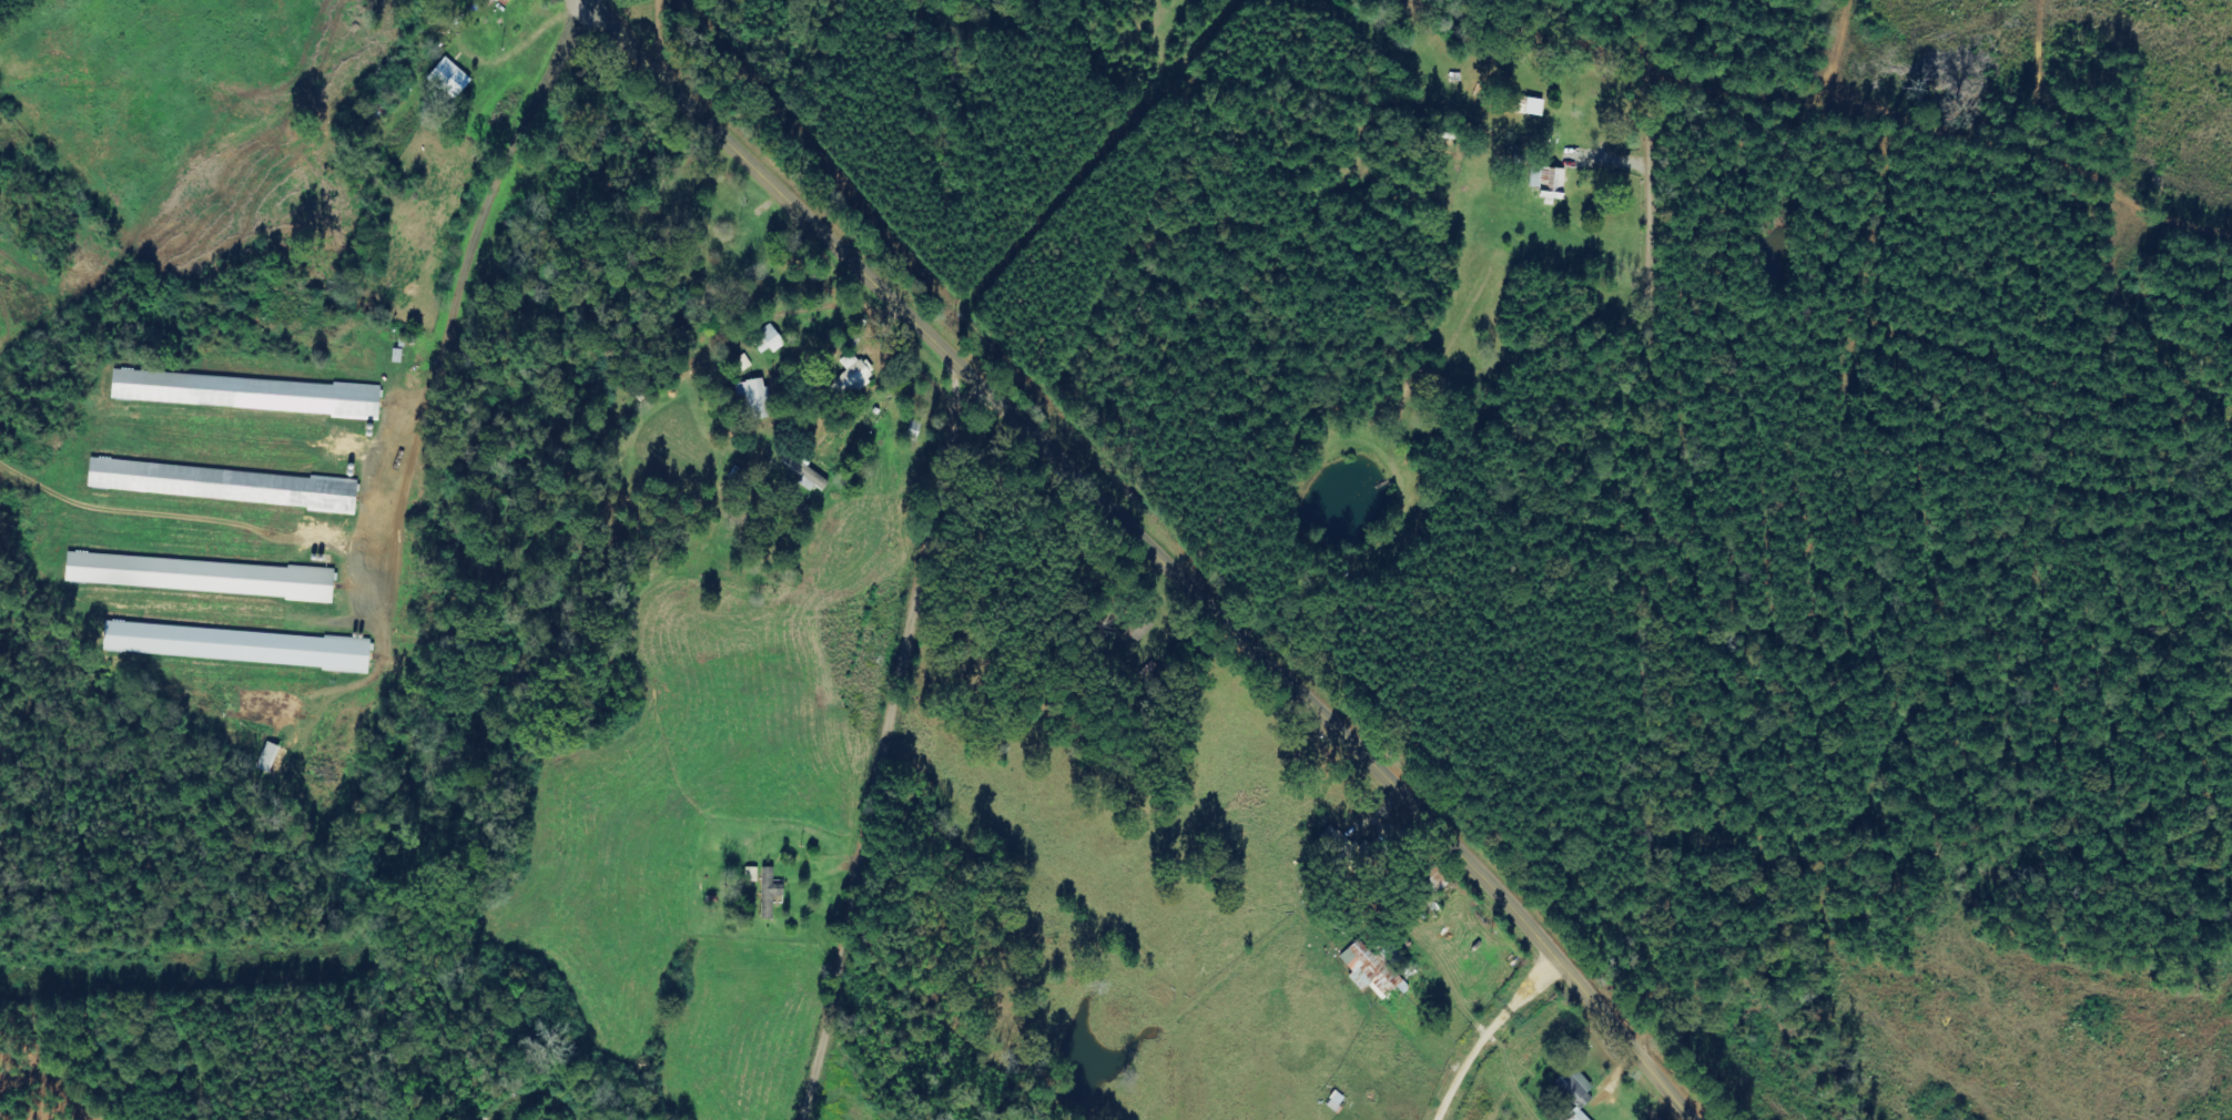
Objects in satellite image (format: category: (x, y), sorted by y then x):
building: (487, 0)
building: (507, 2)
road: (1523, 33)
road: (1656, 33)
building: (452, 78)
building: (1530, 105)
building: (1551, 182)
building: (771, 339)
building: (854, 378)
building: (247, 394)
building: (758, 397)
building: (812, 476)
building: (225, 485)
road: (1658, 548)
road: (1150, 549)
building: (202, 576)
building: (239, 646)
road: (890, 749)
building: (1377, 968)
building: (1579, 1092)

